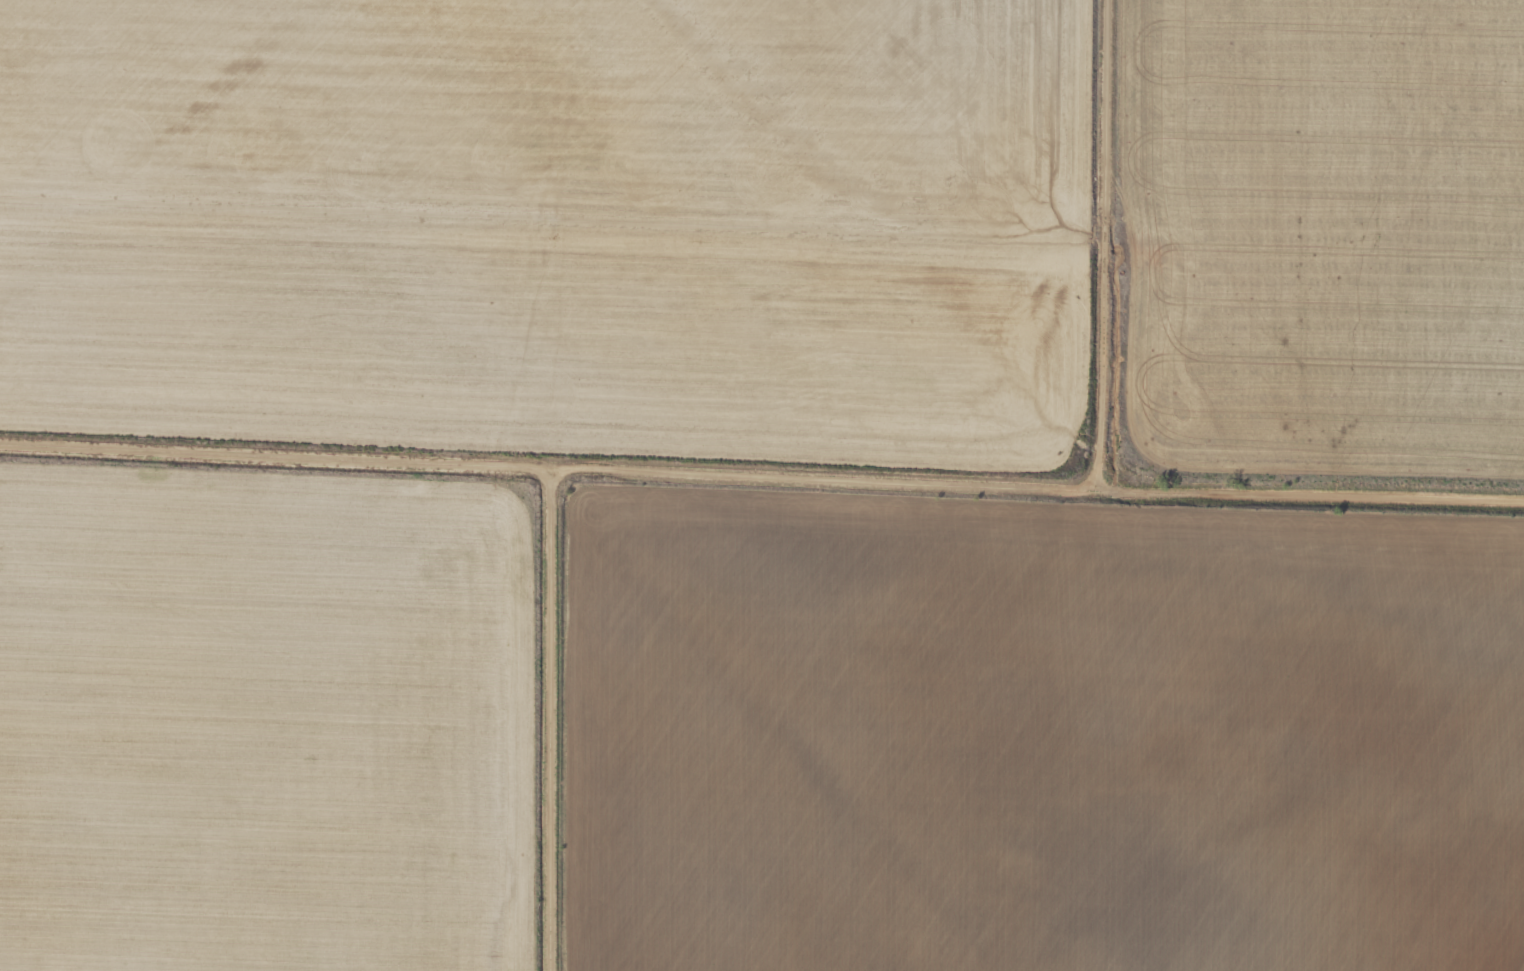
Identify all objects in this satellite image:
road: (1110, 243)
road: (761, 473)
road: (555, 717)

